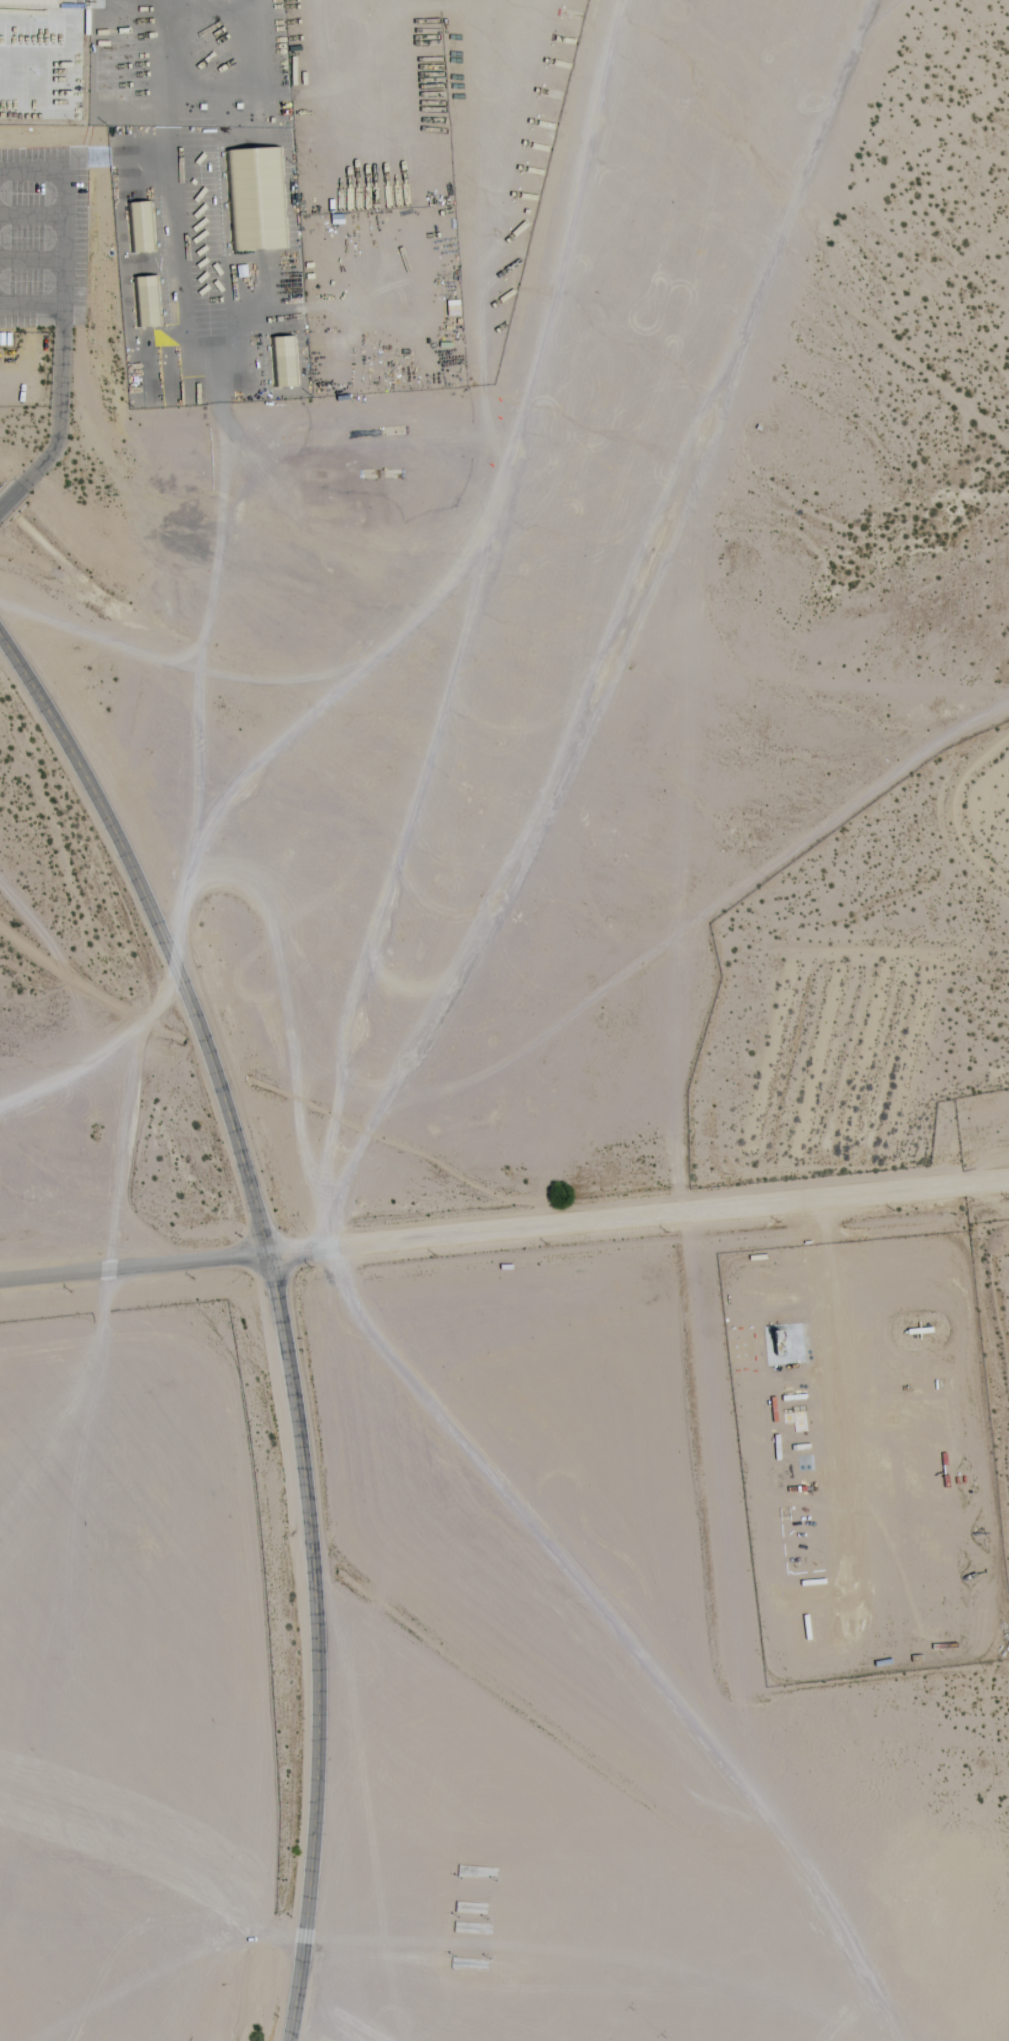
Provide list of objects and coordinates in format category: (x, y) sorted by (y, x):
road: (64, 204)
parking lot: (43, 237)
road: (30, 306)
road: (57, 418)
road: (622, 624)
road: (318, 694)
road: (339, 1091)
road: (638, 1217)
road: (134, 1267)
road: (280, 1310)
road: (338, 2026)

